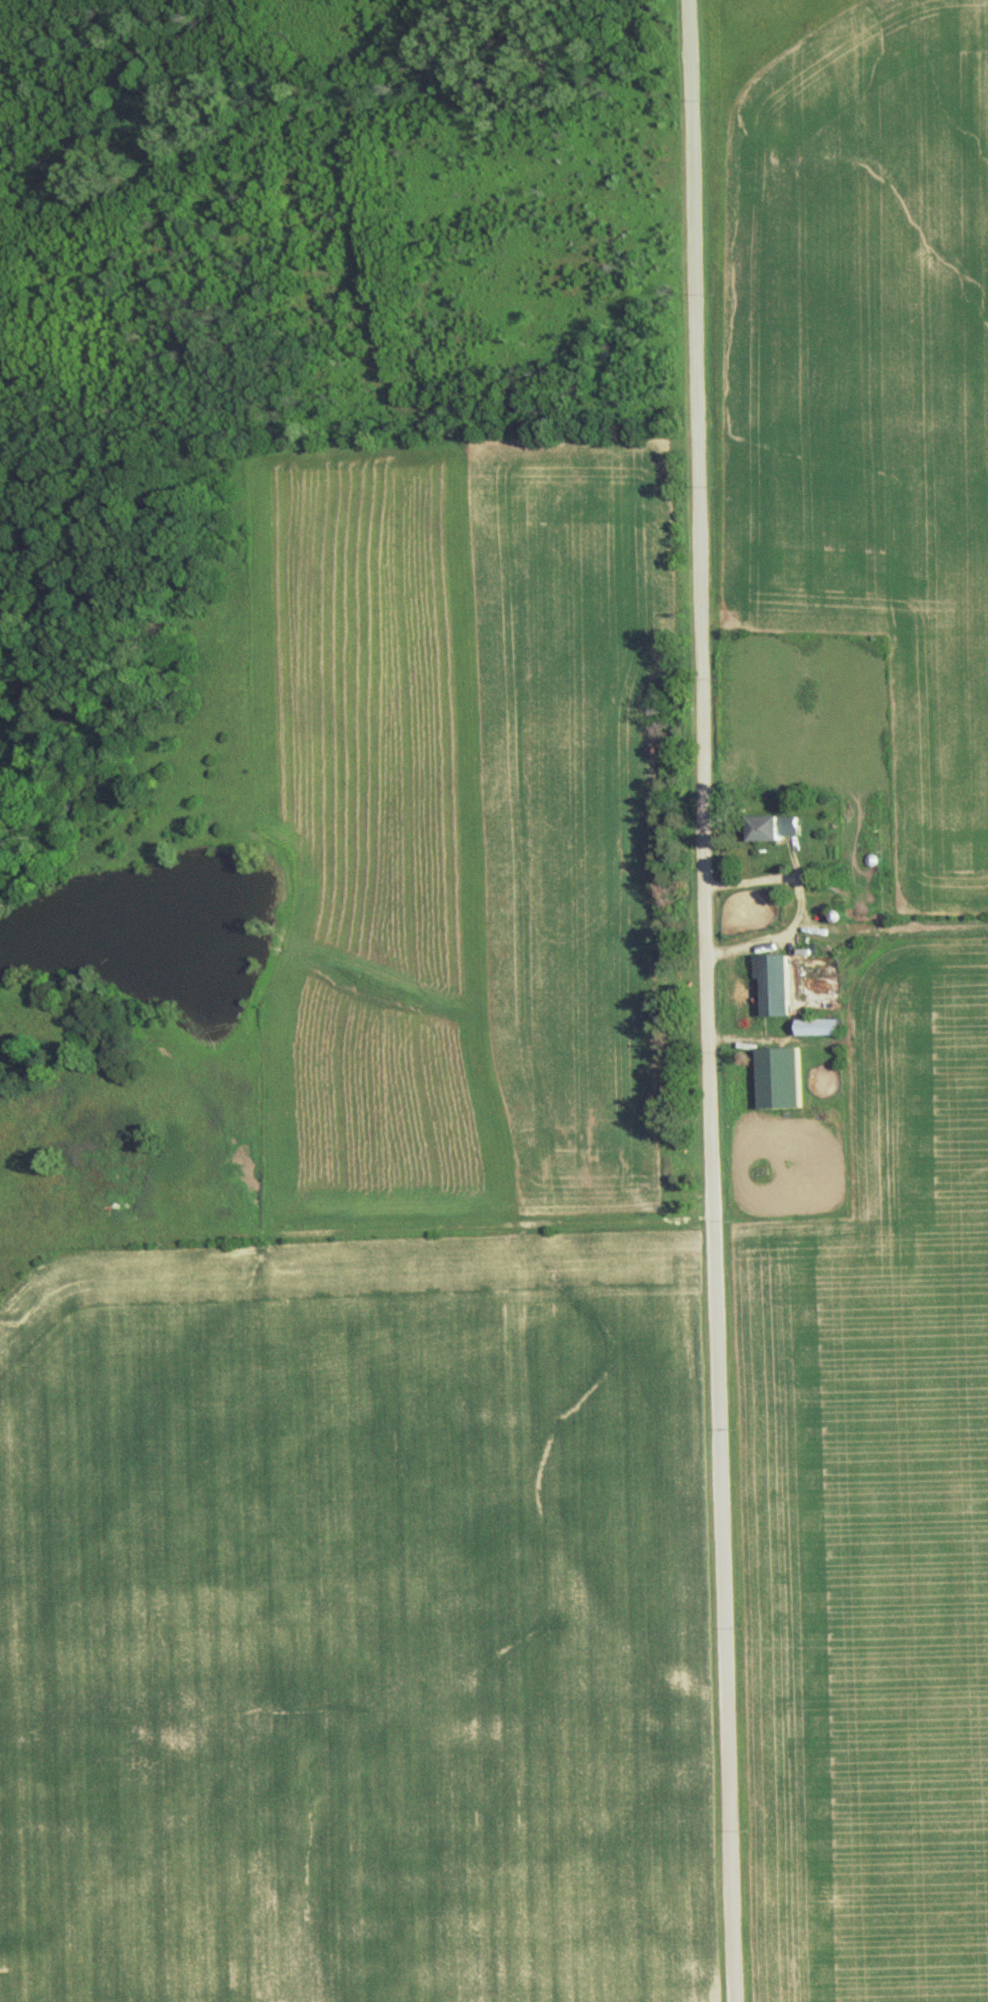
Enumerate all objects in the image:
building: (780, 825)
building: (813, 876)
building: (779, 980)
road: (701, 1001)
building: (824, 1023)
building: (783, 1074)

